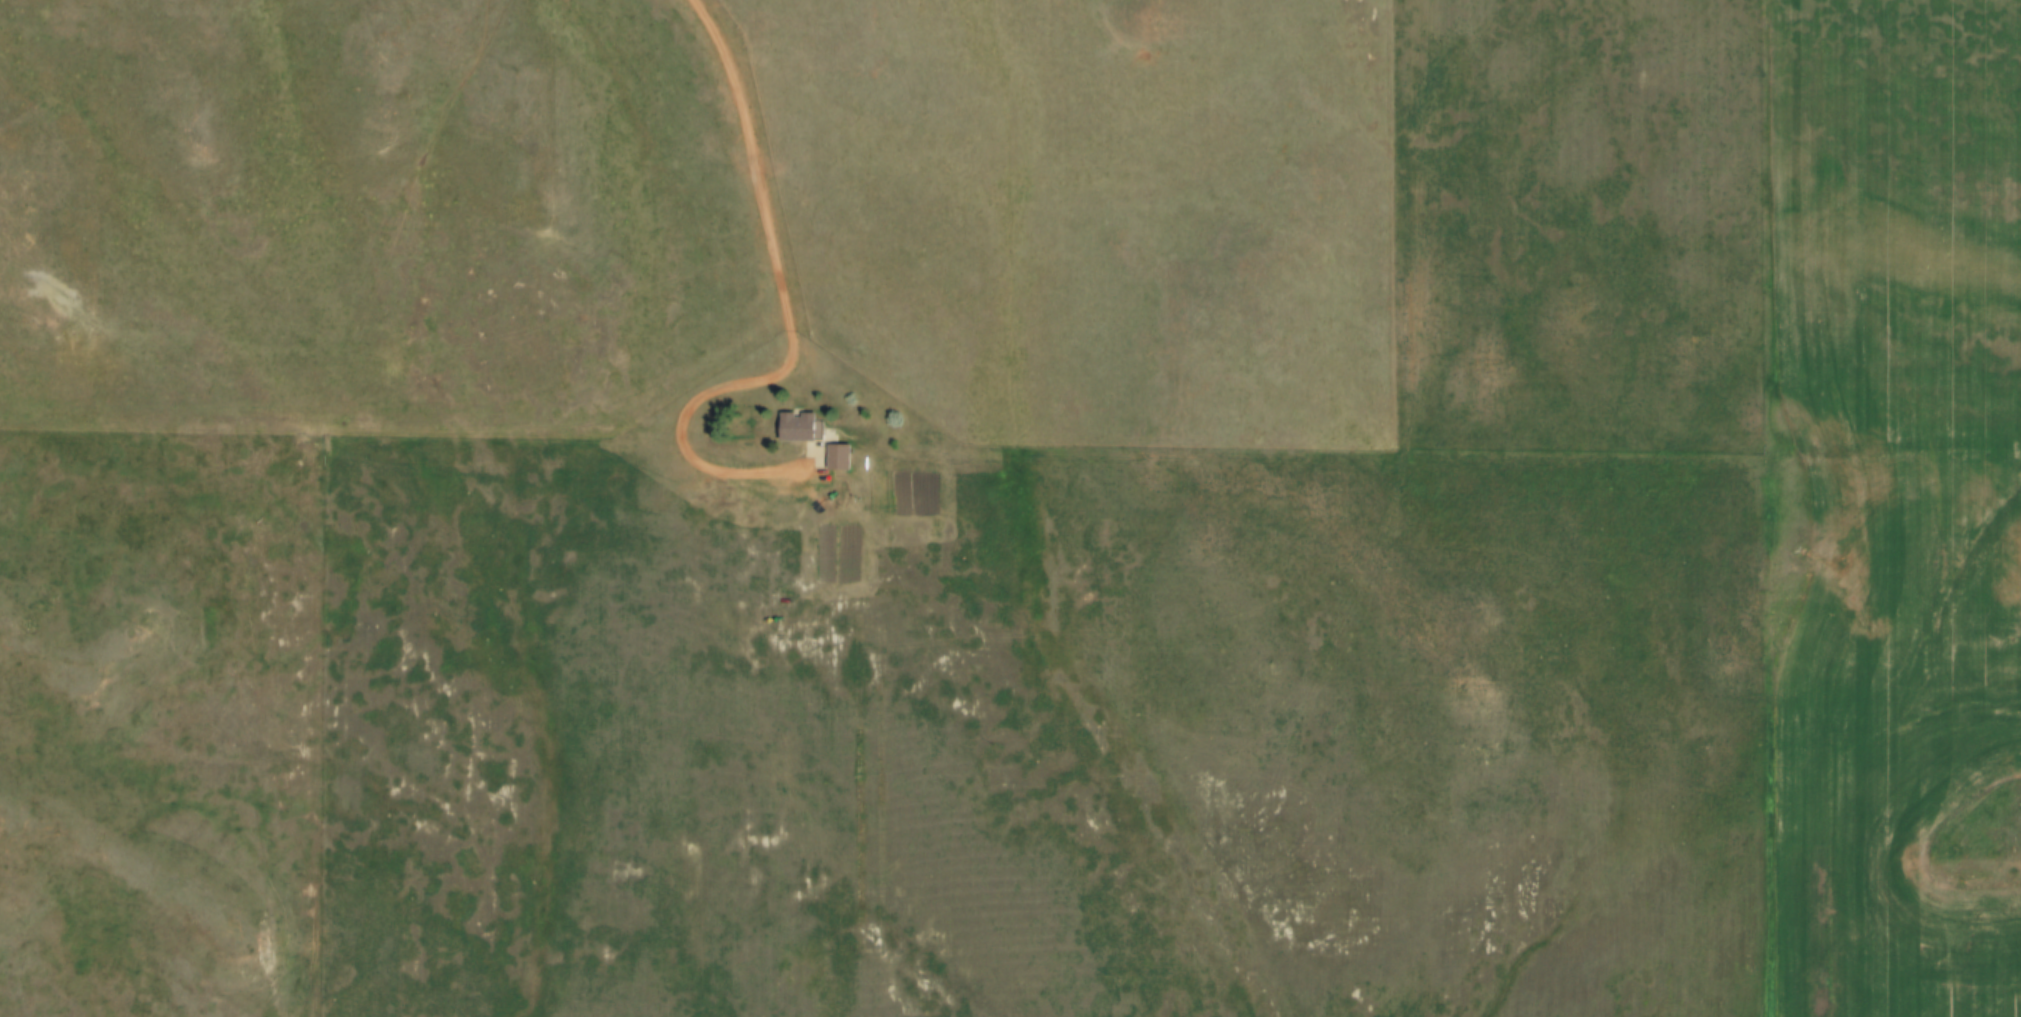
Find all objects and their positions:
road: (787, 317)
building: (795, 425)
building: (835, 456)

